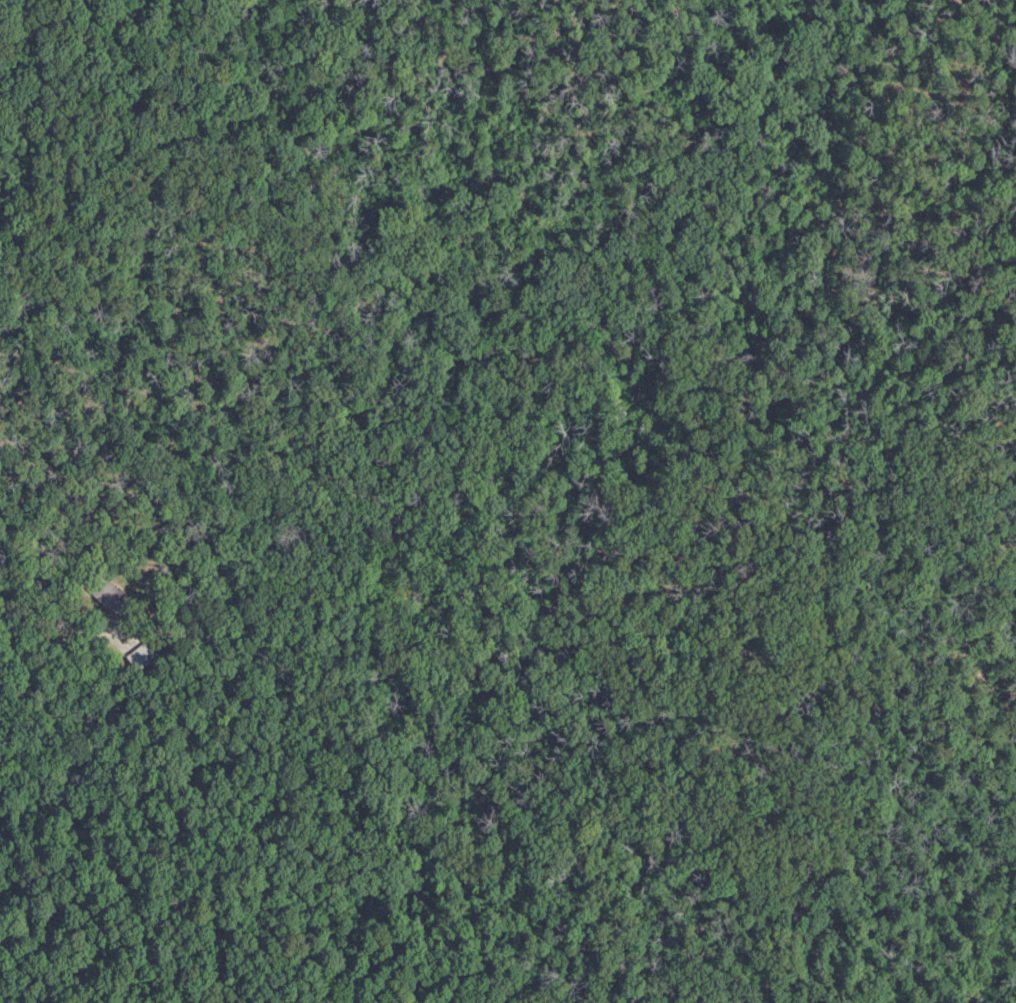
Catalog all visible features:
building: (106, 595)
building: (140, 656)

